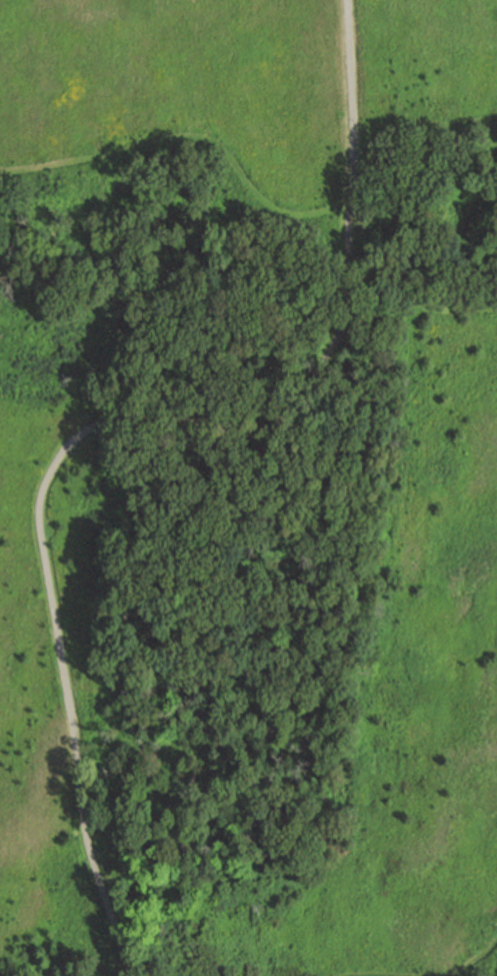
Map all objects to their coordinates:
road: (419, 123)
road: (193, 139)
road: (421, 304)
road: (115, 417)
road: (476, 961)

